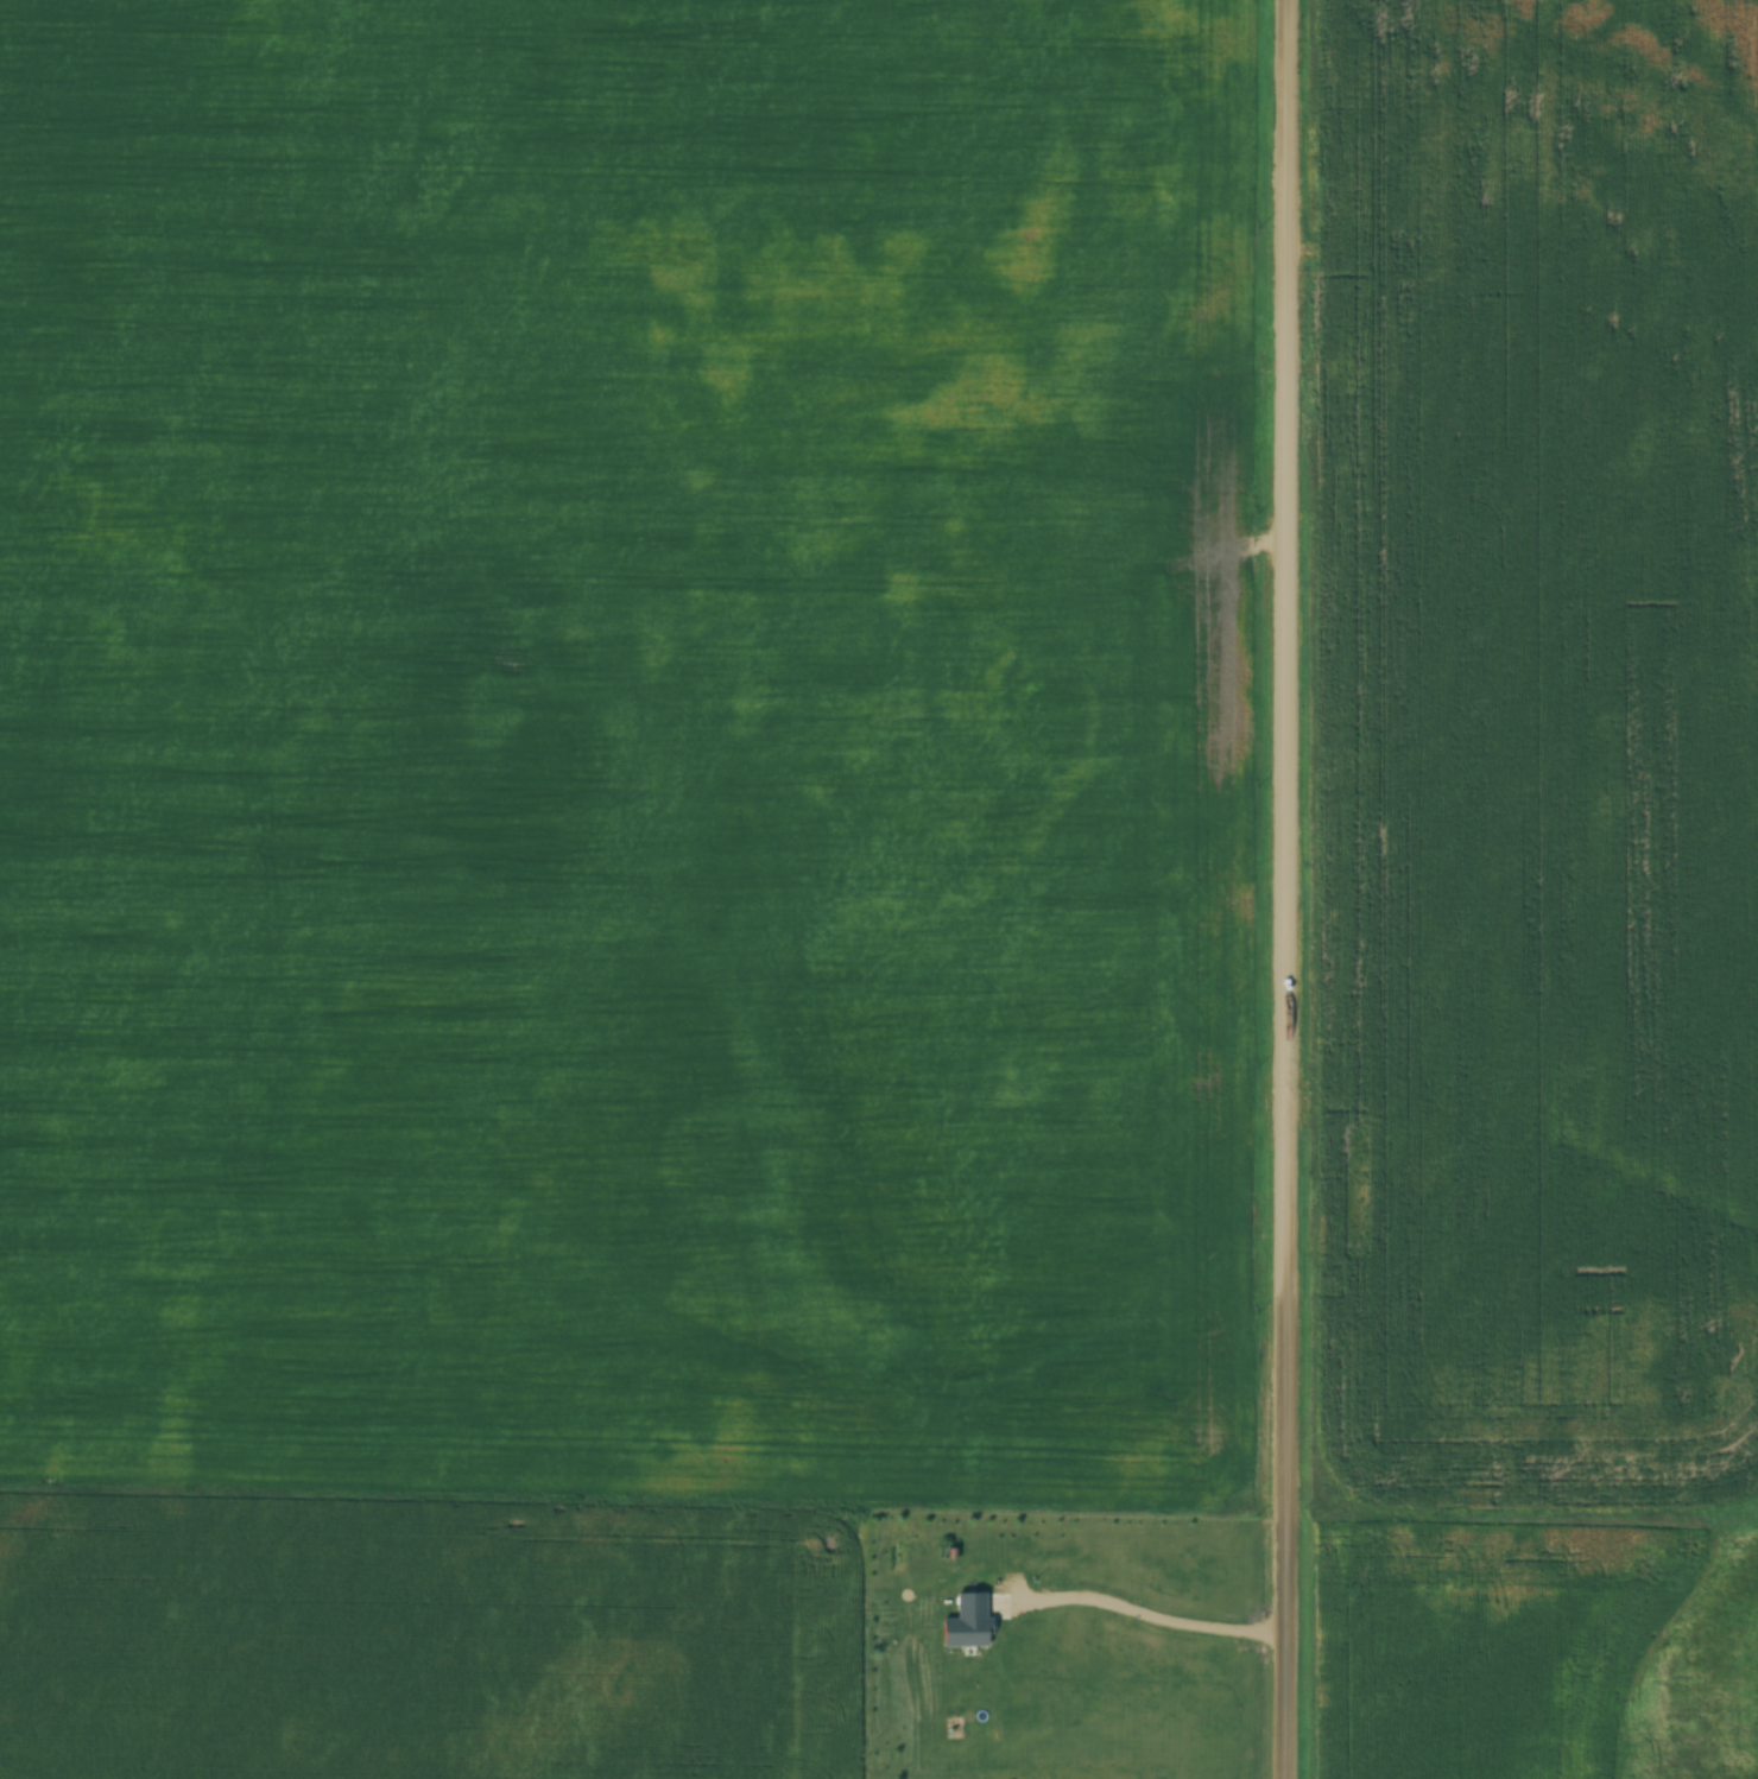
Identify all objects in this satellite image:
road: (1282, 888)

